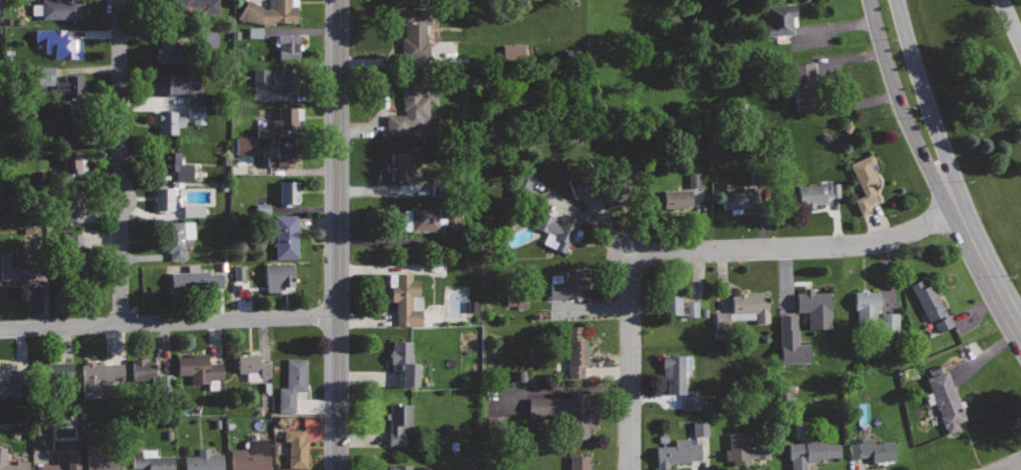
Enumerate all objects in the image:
building: (58, 8)
building: (185, 11)
building: (270, 12)
building: (780, 19)
road: (1011, 20)
building: (415, 31)
building: (255, 32)
building: (60, 43)
building: (288, 46)
building: (169, 51)
building: (514, 51)
building: (280, 79)
building: (176, 82)
building: (72, 85)
building: (803, 86)
building: (194, 97)
building: (410, 103)
building: (196, 114)
building: (288, 117)
building: (170, 122)
building: (56, 126)
building: (264, 132)
building: (244, 145)
road: (955, 147)
building: (282, 155)
road: (121, 162)
building: (72, 164)
building: (177, 164)
building: (401, 165)
road: (941, 169)
building: (693, 179)
building: (865, 179)
building: (525, 180)
building: (577, 185)
building: (619, 187)
building: (289, 192)
building: (817, 194)
building: (164, 198)
building: (677, 198)
building: (740, 198)
building: (65, 209)
building: (262, 209)
building: (192, 210)
building: (428, 218)
building: (561, 232)
road: (338, 234)
building: (286, 236)
building: (175, 240)
road: (696, 250)
building: (77, 255)
building: (20, 267)
building: (239, 272)
building: (279, 276)
building: (195, 283)
building: (569, 285)
building: (406, 299)
building: (517, 301)
building: (751, 304)
building: (677, 305)
building: (933, 305)
building: (816, 307)
building: (866, 311)
road: (168, 322)
building: (791, 341)
building: (576, 350)
building: (405, 362)
building: (253, 365)
building: (142, 368)
building: (201, 368)
building: (14, 377)
building: (99, 377)
building: (58, 378)
building: (680, 380)
building: (293, 383)
building: (947, 400)
building: (567, 411)
building: (400, 423)
building: (700, 428)
building: (296, 447)
building: (745, 448)
building: (873, 449)
building: (678, 452)
building: (811, 452)
building: (2, 453)
building: (253, 455)
building: (101, 458)
building: (153, 460)
building: (204, 460)
building: (64, 461)
building: (580, 463)
road: (1013, 465)
building: (400, 466)

